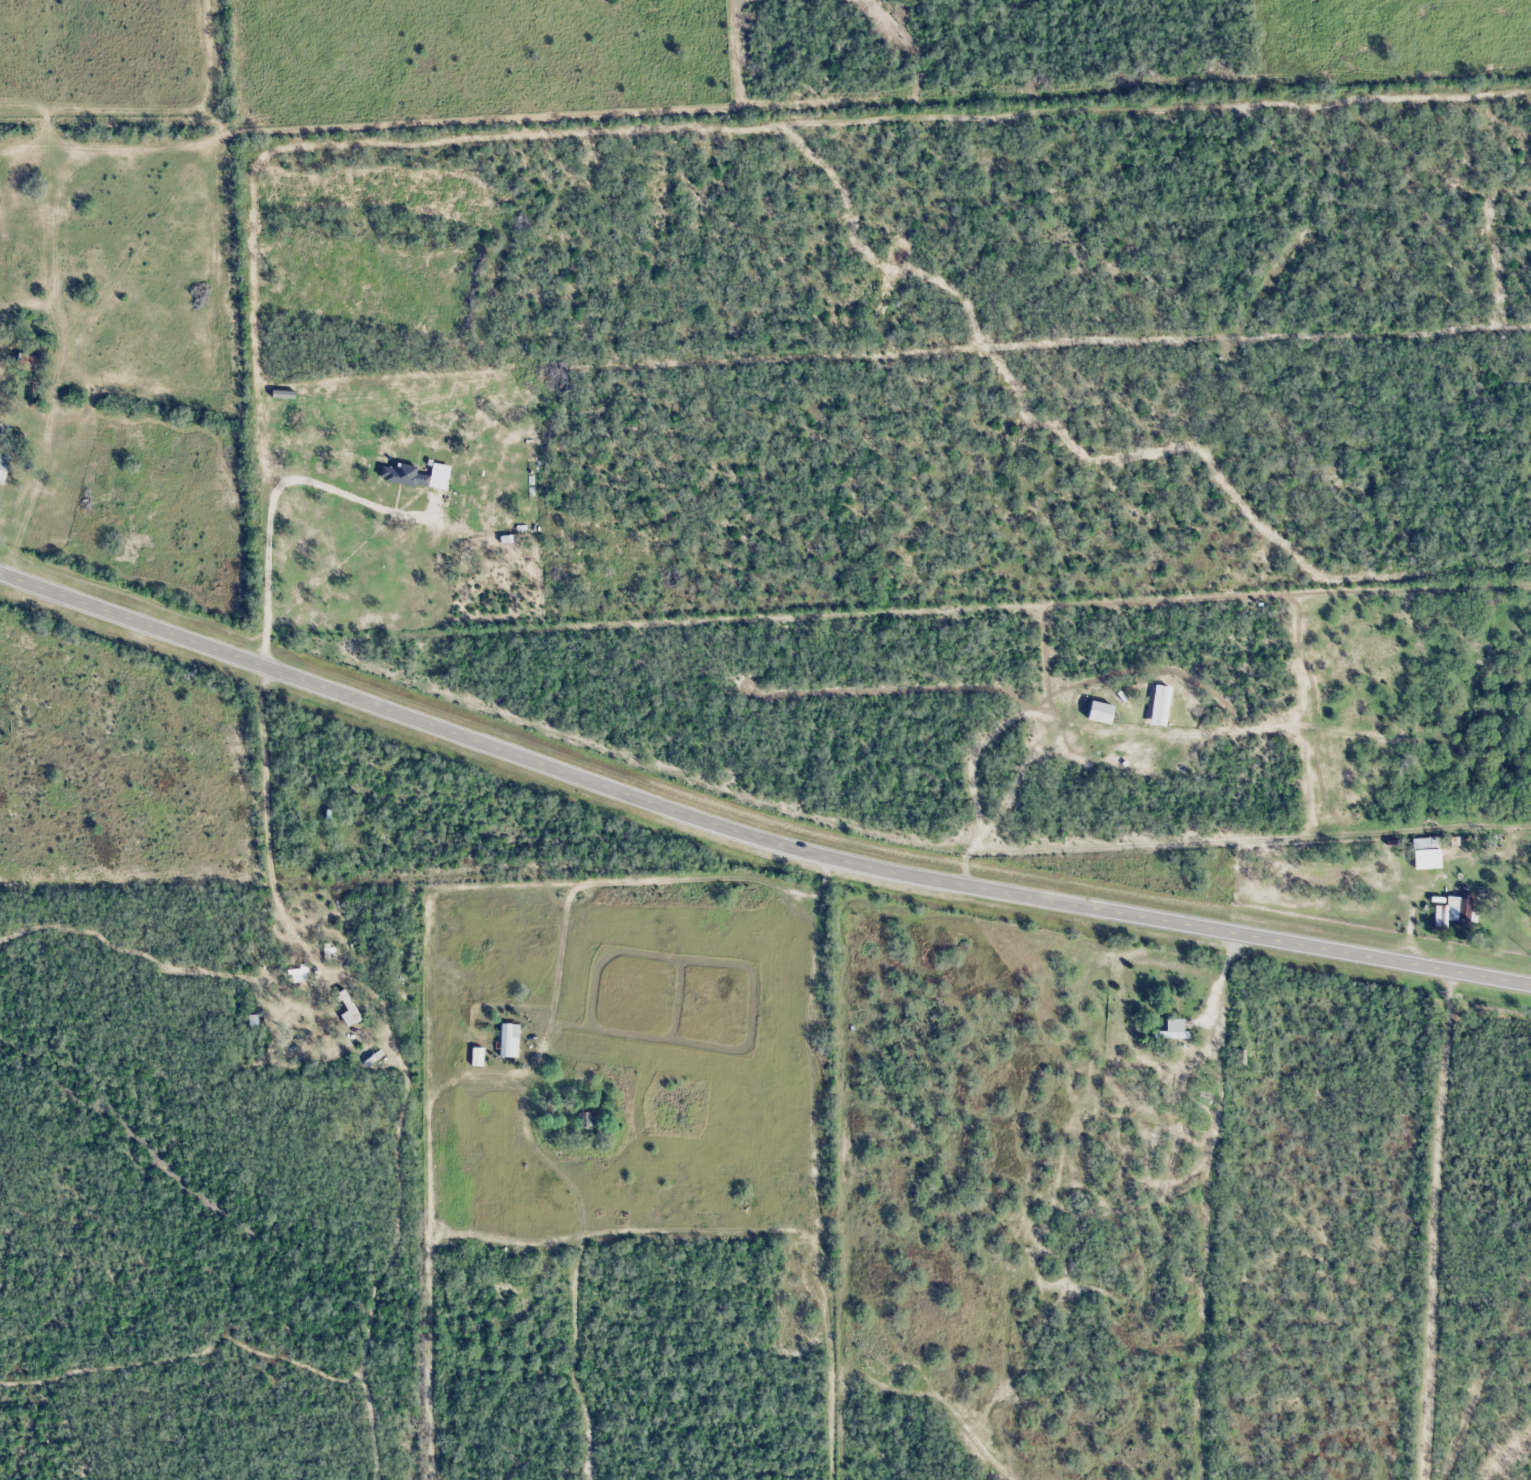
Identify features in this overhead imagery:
building: (28, 360)
building: (2, 471)
building: (1163, 705)
building: (1101, 711)
road: (750, 834)
building: (1422, 843)
building: (1453, 911)
building: (349, 1009)
building: (1174, 1028)
building: (510, 1039)
building: (586, 1120)

